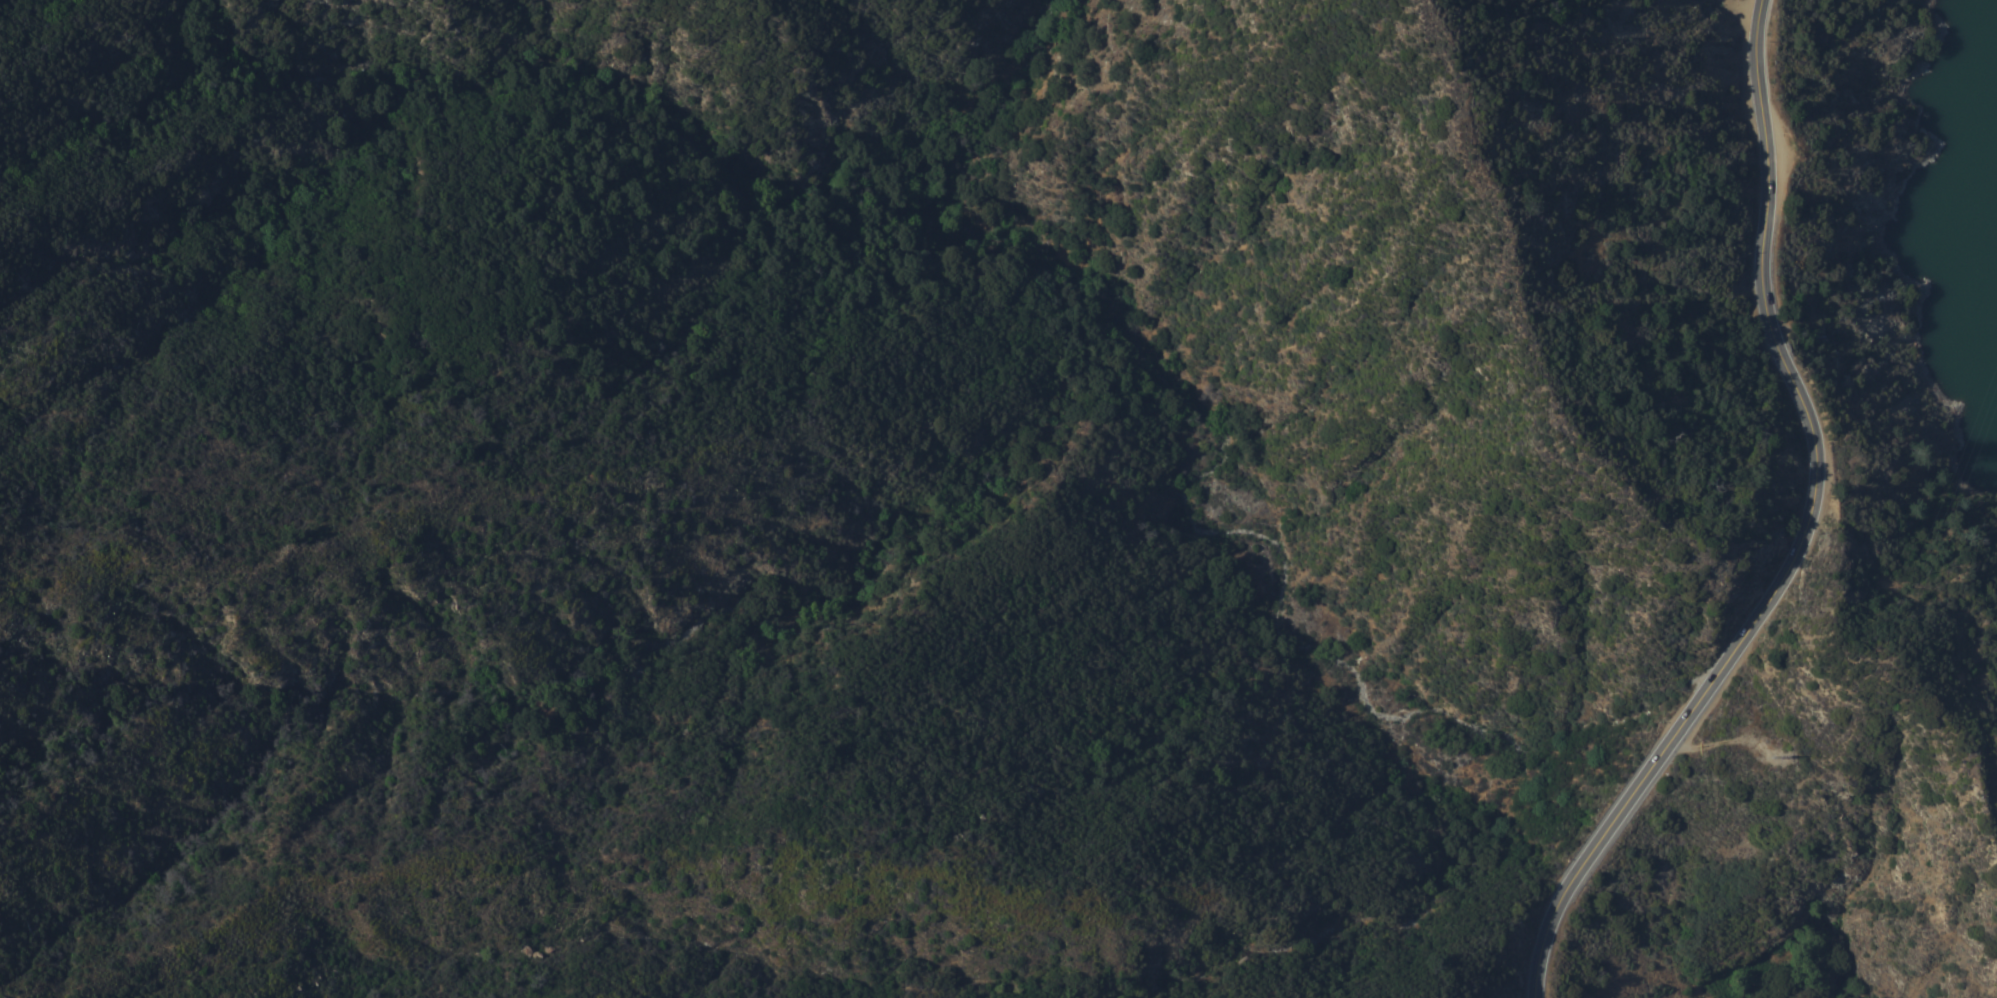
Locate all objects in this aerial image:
road: (1807, 532)

